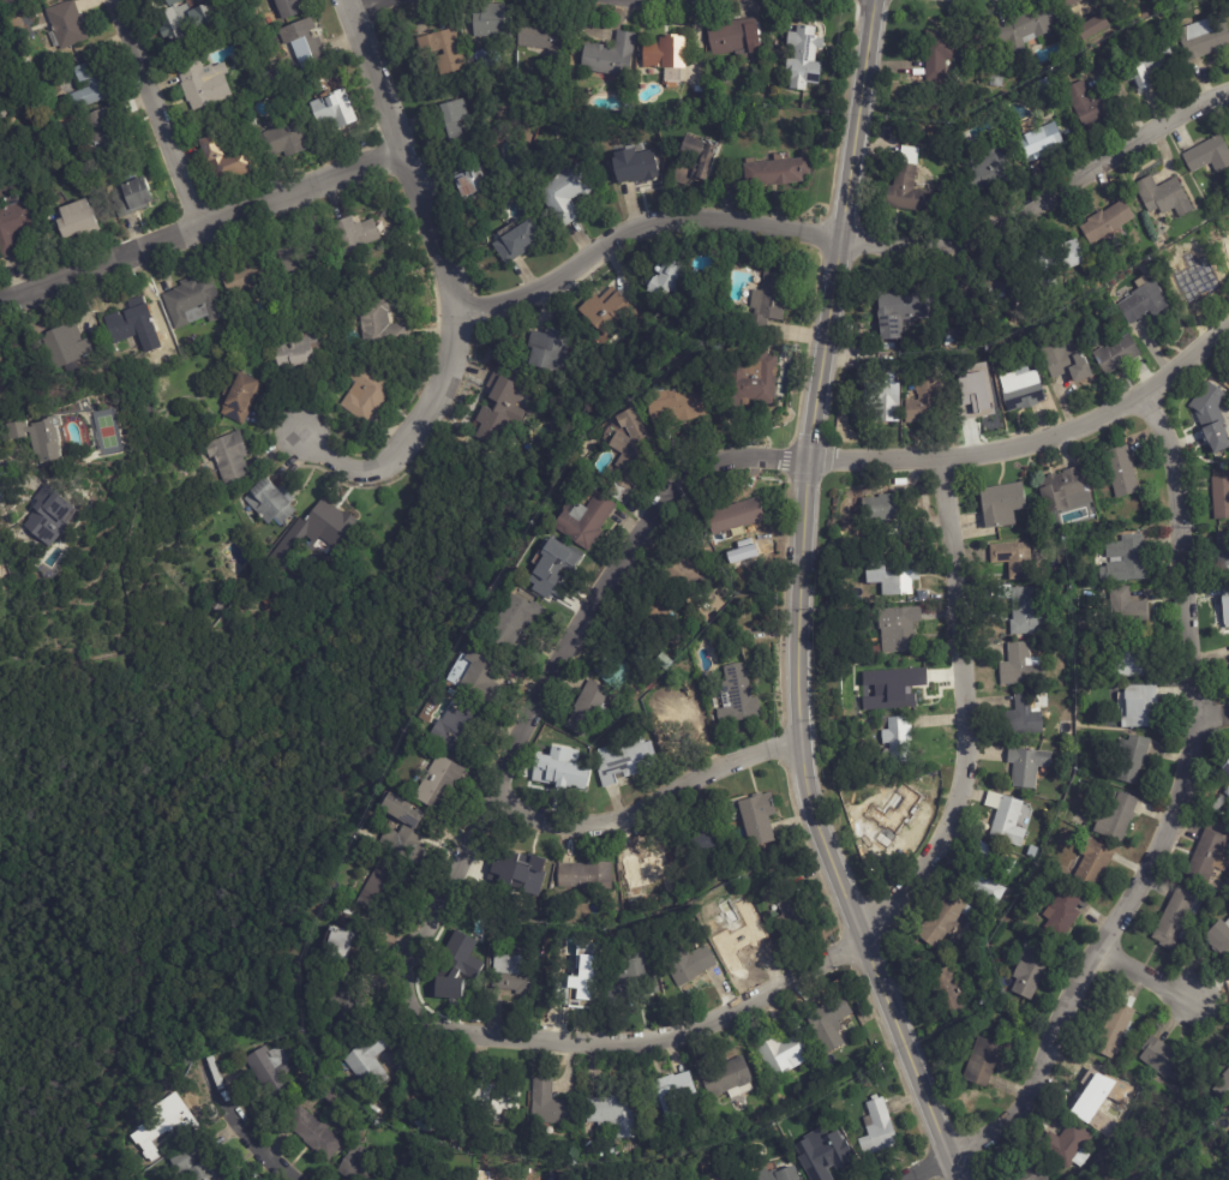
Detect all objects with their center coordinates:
building: (29, 0)
building: (170, 2)
building: (1068, 4)
building: (1101, 4)
road: (365, 6)
building: (286, 8)
building: (182, 19)
building: (492, 20)
building: (64, 25)
building: (1093, 26)
building: (1025, 30)
building: (540, 34)
building: (731, 36)
building: (1203, 37)
building: (302, 43)
building: (948, 49)
building: (442, 52)
building: (664, 52)
building: (610, 55)
building: (485, 56)
building: (802, 56)
building: (1149, 64)
building: (268, 78)
building: (202, 83)
building: (85, 88)
building: (1093, 104)
building: (338, 109)
building: (1065, 109)
road: (155, 114)
building: (444, 122)
building: (101, 134)
building: (281, 140)
building: (1041, 142)
building: (1207, 155)
building: (224, 161)
building: (705, 162)
building: (636, 167)
building: (991, 169)
building: (777, 172)
building: (468, 186)
building: (910, 186)
building: (564, 194)
building: (1163, 196)
building: (134, 197)
building: (73, 218)
building: (1108, 224)
building: (13, 226)
road: (200, 228)
building: (352, 234)
building: (514, 239)
road: (850, 240)
building: (1225, 248)
building: (296, 259)
building: (1053, 263)
building: (244, 274)
building: (1191, 275)
road: (446, 282)
building: (666, 282)
building: (993, 284)
building: (192, 301)
building: (1143, 301)
building: (766, 305)
building: (901, 309)
building: (607, 313)
building: (130, 323)
building: (380, 328)
building: (65, 347)
building: (544, 349)
building: (294, 352)
building: (1115, 354)
building: (982, 358)
building: (1065, 363)
building: (1228, 375)
building: (702, 378)
building: (754, 381)
building: (1020, 389)
building: (365, 394)
building: (883, 394)
building: (240, 399)
building: (925, 399)
building: (973, 403)
building: (675, 406)
building: (497, 411)
building: (1210, 413)
building: (146, 414)
building: (40, 438)
building: (629, 450)
building: (229, 457)
building: (1224, 466)
building: (1121, 469)
road: (673, 486)
building: (1065, 490)
building: (1219, 497)
building: (270, 502)
building: (1002, 503)
building: (883, 508)
building: (46, 517)
building: (733, 520)
building: (582, 521)
building: (328, 525)
building: (1223, 552)
building: (1125, 557)
building: (1013, 558)
building: (550, 567)
building: (688, 573)
building: (893, 576)
building: (1101, 592)
building: (1225, 600)
building: (216, 601)
road: (799, 601)
building: (1127, 609)
building: (1025, 611)
building: (657, 612)
building: (514, 623)
building: (899, 630)
building: (1084, 630)
building: (875, 652)
building: (1132, 660)
building: (663, 663)
building: (622, 664)
building: (1026, 669)
building: (870, 671)
building: (480, 678)
building: (898, 683)
building: (737, 696)
building: (1138, 707)
building: (587, 709)
road: (1212, 714)
building: (1023, 715)
building: (671, 724)
building: (454, 735)
building: (898, 737)
building: (1131, 757)
building: (624, 761)
building: (1026, 765)
building: (1225, 767)
building: (560, 773)
building: (438, 781)
building: (1227, 791)
building: (1219, 802)
road: (646, 804)
park: (198, 807)
building: (888, 814)
building: (1115, 815)
building: (756, 816)
building: (1228, 816)
building: (1008, 821)
road: (1165, 827)
building: (403, 828)
building: (699, 841)
building: (1209, 851)
building: (1032, 852)
building: (1093, 861)
building: (646, 865)
building: (982, 870)
building: (520, 871)
building: (584, 875)
building: (379, 883)
building: (717, 899)
building: (708, 905)
building: (790, 908)
building: (1063, 911)
building: (1176, 917)
building: (347, 920)
building: (943, 920)
road: (870, 926)
building: (1219, 936)
building: (738, 941)
building: (346, 947)
building: (635, 964)
building: (688, 964)
building: (1029, 969)
building: (313, 972)
building: (511, 974)
building: (455, 977)
road: (1147, 980)
building: (630, 983)
road: (1213, 986)
building: (575, 988)
building: (948, 989)
building: (346, 994)
building: (1005, 1007)
building: (828, 1022)
building: (792, 1023)
building: (1115, 1028)
building: (781, 1054)
building: (367, 1061)
building: (983, 1061)
building: (1164, 1061)
building: (1110, 1065)
building: (269, 1072)
building: (613, 1073)
building: (725, 1077)
building: (308, 1080)
building: (868, 1084)
building: (1222, 1086)
building: (438, 1089)
building: (672, 1092)
building: (331, 1096)
building: (1091, 1097)
building: (490, 1100)
building: (547, 1104)
building: (372, 1107)
building: (612, 1114)
building: (166, 1124)
road: (239, 1127)
building: (877, 1128)
building: (312, 1132)
building: (1107, 1134)
building: (452, 1137)
building: (1067, 1145)
building: (827, 1161)
building: (359, 1166)
building: (193, 1168)
building: (581, 1169)
building: (1030, 1170)
building: (1225, 1173)
building: (778, 1174)
building: (1203, 1175)

